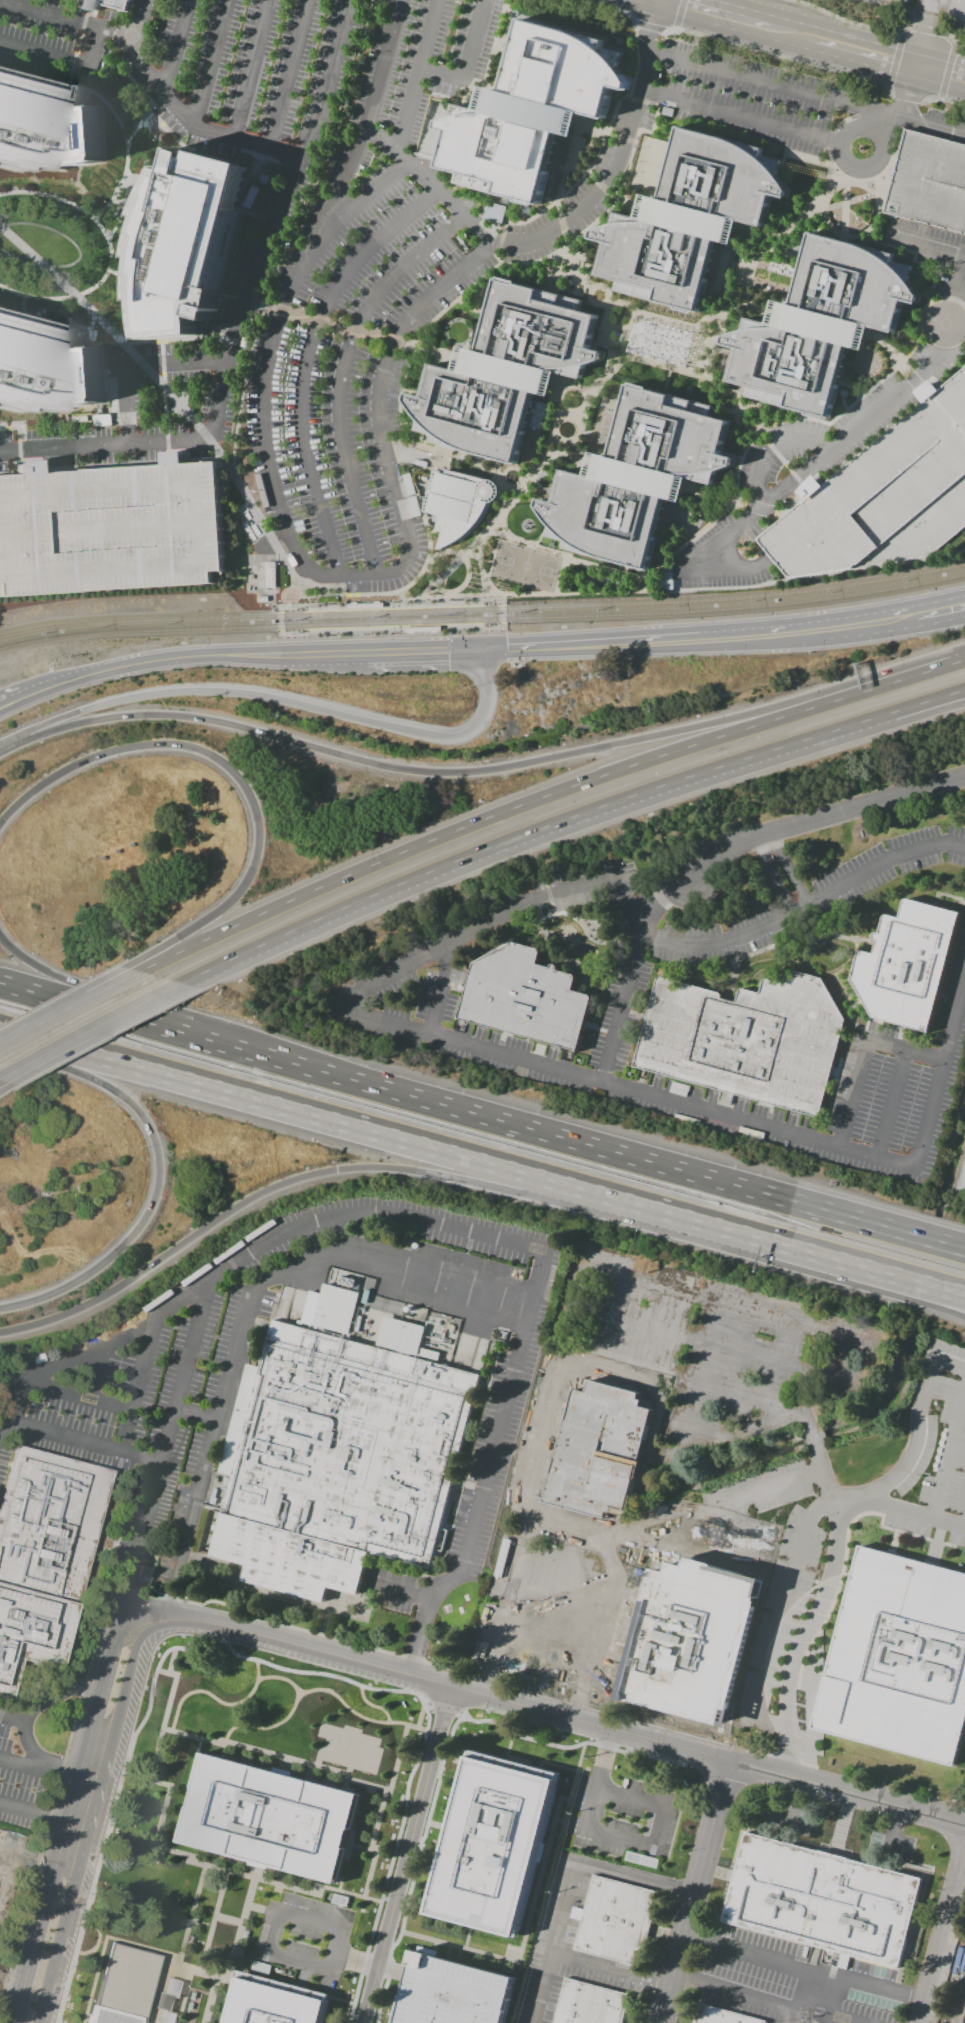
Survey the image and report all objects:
road: (615, 3)
road: (606, 6)
building: (86, 7)
parking lot: (86, 7)
road: (614, 7)
road: (935, 8)
road: (85, 12)
road: (679, 13)
road: (66, 20)
road: (850, 21)
road: (82, 23)
road: (635, 23)
road: (507, 25)
road: (648, 26)
road: (674, 27)
road: (909, 27)
road: (571, 28)
road: (666, 29)
road: (662, 30)
road: (927, 30)
road: (901, 32)
road: (946, 33)
road: (822, 38)
parking lot: (54, 39)
road: (955, 39)
road: (926, 40)
road: (954, 42)
road: (77, 43)
road: (135, 52)
road: (781, 56)
road: (62, 58)
road: (893, 59)
road: (468, 60)
road: (73, 61)
road: (209, 64)
road: (622, 67)
road: (252, 70)
road: (946, 70)
road: (486, 73)
parking lot: (255, 75)
road: (288, 75)
road: (69, 76)
road: (416, 76)
road: (328, 80)
road: (632, 80)
road: (885, 85)
road: (870, 90)
road: (912, 92)
road: (805, 93)
road: (890, 93)
road: (906, 96)
road: (939, 97)
road: (942, 99)
road: (105, 103)
road: (860, 106)
building: (531, 113)
road: (181, 116)
road: (741, 117)
road: (655, 120)
road: (841, 120)
road: (884, 122)
parking lot: (944, 125)
building: (48, 128)
road: (645, 132)
road: (607, 135)
road: (625, 140)
road: (827, 142)
road: (325, 156)
road: (807, 158)
road: (783, 160)
road: (845, 160)
road: (125, 163)
park: (651, 164)
road: (829, 165)
road: (627, 167)
road: (576, 169)
road: (591, 177)
road: (576, 180)
road: (562, 182)
building: (929, 182)
parking lot: (929, 182)
road: (857, 183)
road: (601, 188)
road: (881, 195)
road: (851, 198)
road: (630, 202)
road: (843, 207)
building: (492, 213)
road: (91, 218)
road: (563, 221)
building: (688, 221)
road: (560, 222)
road: (503, 223)
road: (833, 231)
road: (499, 238)
building: (184, 240)
road: (765, 243)
road: (887, 245)
road: (928, 245)
road: (565, 246)
parking lot: (933, 252)
road: (496, 257)
road: (918, 262)
road: (577, 268)
parking lot: (432, 271)
road: (507, 274)
road: (921, 275)
road: (605, 289)
road: (960, 292)
road: (36, 297)
road: (935, 298)
road: (951, 299)
road: (952, 299)
road: (605, 304)
road: (22, 306)
road: (963, 306)
road: (470, 309)
road: (755, 309)
road: (13, 314)
road: (664, 319)
road: (56, 320)
road: (90, 321)
road: (328, 321)
road: (628, 322)
building: (819, 327)
road: (719, 333)
road: (631, 335)
road: (421, 337)
road: (608, 344)
road: (886, 349)
road: (432, 351)
road: (694, 354)
road: (306, 361)
road: (136, 365)
building: (45, 369)
road: (676, 370)
road: (344, 374)
building: (504, 374)
road: (947, 378)
road: (665, 379)
road: (914, 379)
road: (568, 385)
road: (850, 385)
road: (860, 385)
road: (922, 385)
road: (242, 388)
road: (217, 395)
road: (737, 397)
road: (181, 407)
road: (739, 408)
road: (842, 410)
road: (567, 415)
road: (761, 419)
road: (551, 422)
road: (757, 430)
road: (763, 437)
road: (774, 451)
road: (775, 451)
road: (894, 454)
road: (730, 455)
road: (452, 456)
road: (196, 460)
road: (576, 460)
road: (786, 466)
road: (510, 468)
road: (806, 470)
road: (534, 473)
road: (795, 476)
building: (636, 481)
road: (801, 484)
road: (139, 485)
road: (518, 486)
road: (914, 488)
road: (707, 495)
building: (884, 497)
parking lot: (884, 497)
road: (739, 503)
building: (457, 506)
road: (758, 507)
road: (281, 511)
road: (779, 512)
road: (783, 516)
road: (101, 528)
road: (929, 529)
building: (112, 531)
parking lot: (112, 531)
road: (539, 536)
road: (689, 538)
road: (526, 543)
road: (815, 557)
road: (427, 562)
park: (525, 567)
road: (600, 569)
road: (62, 571)
building: (270, 574)
road: (480, 574)
road: (561, 574)
road: (427, 575)
road: (646, 579)
road: (414, 580)
road: (637, 584)
road: (426, 585)
road: (689, 588)
road: (296, 589)
road: (342, 590)
road: (430, 590)
road: (421, 593)
road: (446, 594)
road: (401, 595)
railway: (480, 598)
road: (491, 602)
building: (366, 605)
road: (293, 607)
railway: (483, 610)
road: (940, 611)
road: (281, 620)
railway: (483, 620)
road: (501, 621)
building: (422, 629)
road: (809, 632)
railway: (308, 637)
road: (596, 645)
traffic signals: (489, 650)
road: (425, 652)
road: (210, 656)
road: (31, 681)
road: (31, 695)
road: (279, 701)
road: (911, 706)
road: (911, 710)
road: (1, 745)
road: (758, 754)
road: (231, 769)
road: (485, 771)
road: (545, 796)
road: (820, 817)
road: (790, 869)
road: (417, 876)
road: (772, 876)
road: (661, 897)
road: (780, 920)
road: (482, 922)
building: (908, 961)
road: (75, 986)
road: (439, 987)
building: (528, 995)
road: (155, 998)
road: (352, 1002)
road: (79, 1004)
road: (623, 1007)
road: (70, 1009)
building: (746, 1040)
road: (63, 1045)
road: (67, 1050)
road: (906, 1050)
road: (940, 1078)
road: (3, 1090)
road: (632, 1093)
road: (850, 1094)
road: (889, 1105)
road: (336, 1119)
road: (561, 1138)
road: (159, 1171)
road: (317, 1173)
road: (719, 1221)
road: (455, 1228)
road: (835, 1253)
road: (935, 1281)
road: (931, 1300)
building: (336, 1309)
road: (245, 1312)
road: (807, 1328)
building: (400, 1336)
road: (94, 1372)
park: (0, 1374)
road: (705, 1382)
road: (125, 1409)
road: (196, 1414)
road: (803, 1414)
road: (661, 1417)
road: (603, 1423)
road: (916, 1428)
road: (123, 1430)
road: (810, 1435)
road: (83, 1441)
road: (948, 1452)
road: (164, 1453)
building: (336, 1462)
road: (907, 1510)
road: (673, 1513)
building: (44, 1555)
road: (730, 1563)
road: (402, 1592)
road: (783, 1609)
road: (816, 1613)
road: (599, 1629)
road: (132, 1633)
building: (687, 1640)
building: (898, 1658)
road: (265, 1663)
road: (538, 1670)
road: (117, 1685)
road: (536, 1689)
road: (38, 1700)
road: (553, 1714)
road: (11, 1717)
road: (45, 1771)
road: (793, 1806)
road: (83, 1810)
road: (40, 1812)
building: (269, 1817)
road: (656, 1827)
road: (892, 1830)
building: (492, 1844)
road: (409, 1855)
road: (569, 1876)
road: (633, 1877)
building: (1, 1883)
road: (693, 1892)
building: (821, 1900)
building: (613, 1921)
road: (943, 1939)
road: (46, 1946)
road: (269, 1952)
road: (804, 1967)
road: (608, 1970)
road: (822, 1983)
building: (125, 1985)
building: (452, 1992)
parking garage: (452, 1992)
road: (737, 1993)
building: (272, 2002)
road: (825, 2003)
building: (589, 2004)
road: (29, 2011)
building: (717, 2017)
road: (834, 2020)

